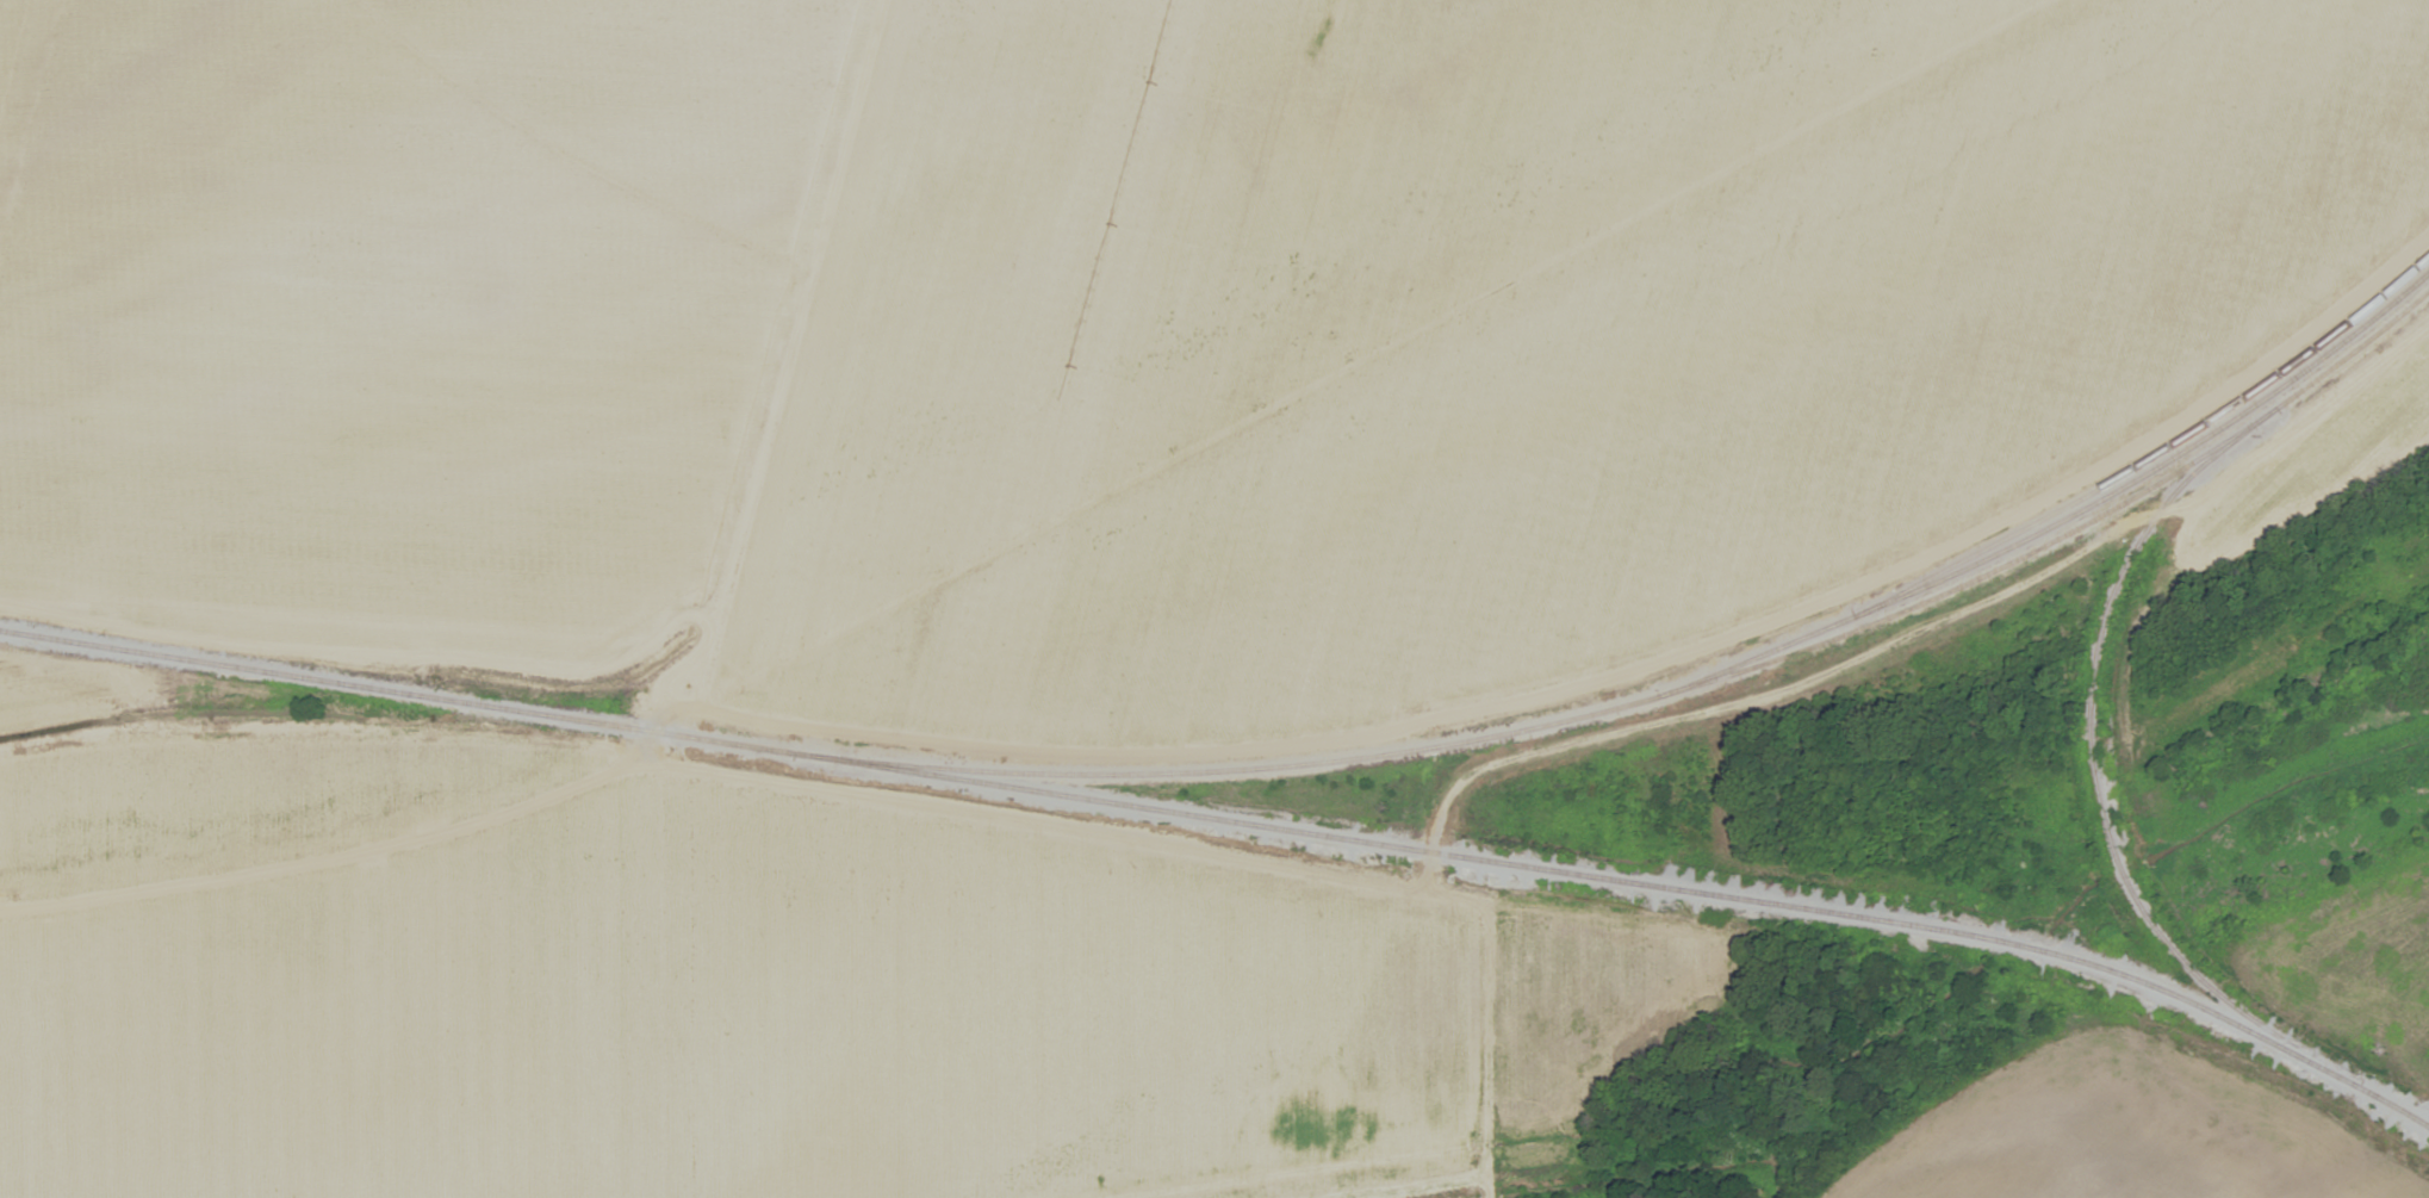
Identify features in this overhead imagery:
road: (471, 50)
railway: (2150, 452)
railway: (2063, 517)
road: (1608, 669)
railway: (1697, 682)
railway: (435, 696)
road: (679, 701)
road: (1529, 753)
railway: (2092, 771)
railway: (1667, 884)

